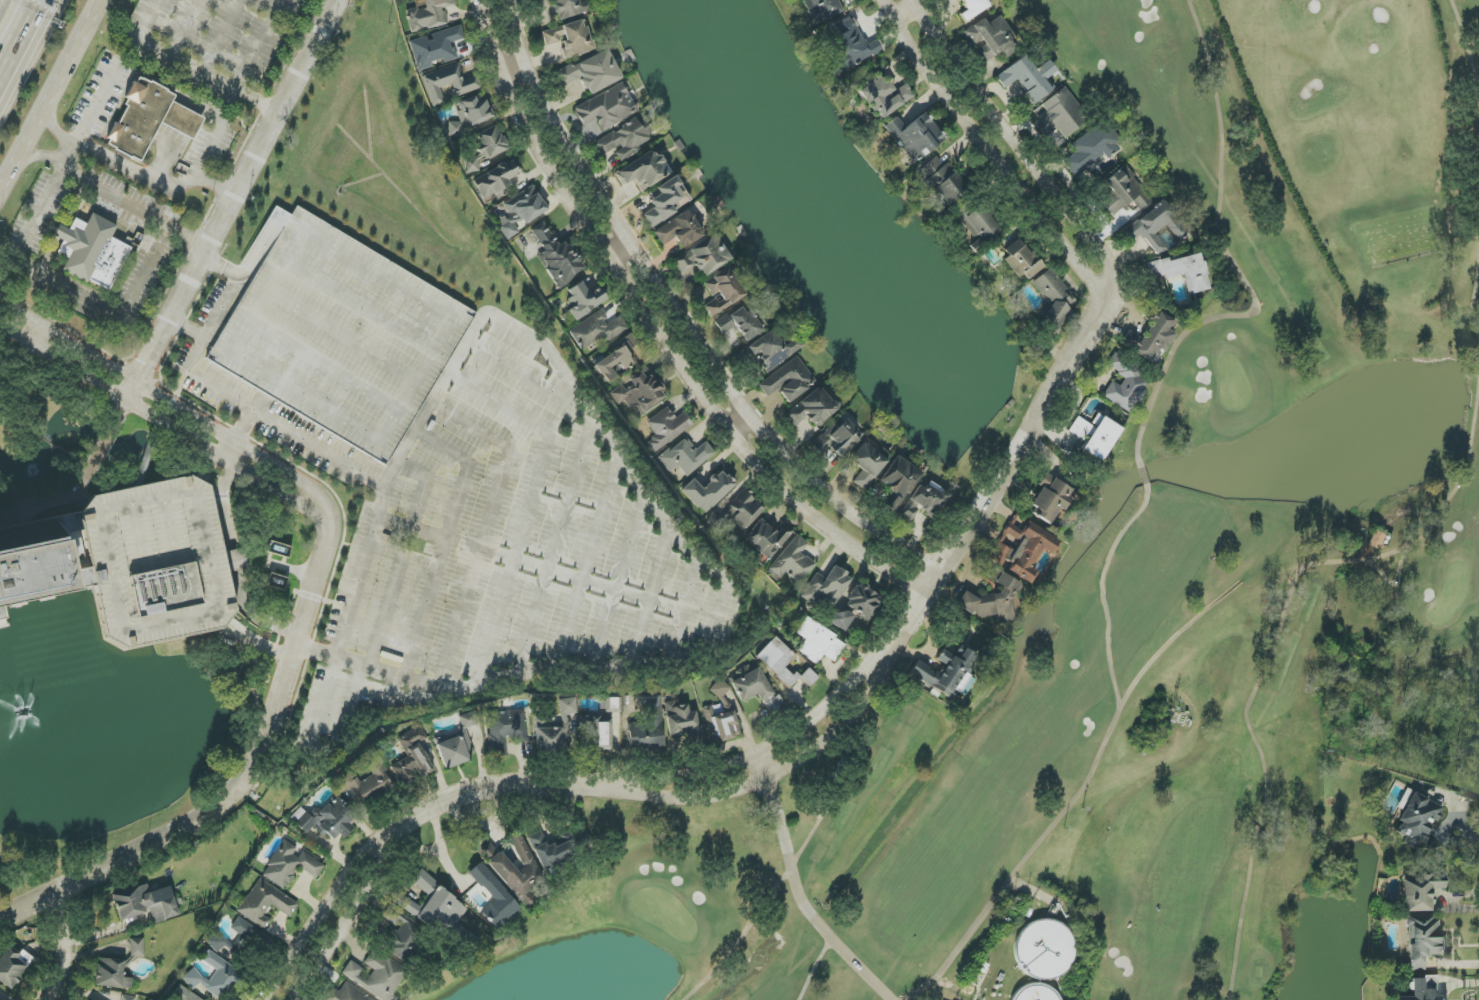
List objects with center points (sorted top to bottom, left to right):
building: (570, 7)
building: (973, 8)
building: (822, 10)
road: (908, 14)
building: (429, 15)
road: (184, 28)
road: (222, 37)
building: (570, 38)
building: (991, 38)
road: (21, 39)
building: (850, 45)
road: (261, 47)
building: (435, 47)
road: (188, 66)
road: (516, 72)
building: (592, 72)
building: (1028, 78)
building: (448, 83)
building: (884, 96)
road: (54, 99)
building: (607, 108)
building: (1061, 114)
building: (469, 116)
building: (149, 119)
road: (181, 124)
road: (56, 135)
building: (915, 137)
building: (624, 140)
building: (1092, 147)
building: (485, 148)
road: (1026, 151)
road: (993, 154)
road: (205, 157)
road: (45, 158)
road: (70, 159)
building: (643, 171)
building: (495, 180)
building: (942, 180)
road: (153, 185)
road: (237, 191)
building: (1124, 192)
building: (664, 202)
road: (134, 211)
building: (522, 211)
building: (979, 224)
building: (1159, 227)
building: (680, 230)
road: (621, 249)
building: (92, 251)
building: (703, 256)
building: (556, 257)
building: (1021, 260)
building: (1182, 272)
building: (722, 292)
building: (1054, 297)
building: (585, 300)
road: (112, 312)
road: (684, 317)
building: (743, 322)
building: (597, 330)
road: (658, 331)
building: (1151, 337)
building: (774, 349)
road: (197, 351)
building: (616, 359)
building: (788, 381)
building: (1126, 383)
building: (639, 393)
road: (171, 402)
building: (812, 408)
road: (742, 424)
building: (666, 428)
building: (1080, 429)
building: (839, 437)
building: (1100, 438)
building: (686, 456)
building: (866, 465)
road: (86, 474)
road: (1005, 476)
building: (899, 481)
building: (709, 491)
building: (1050, 499)
building: (924, 501)
building: (737, 513)
road: (376, 518)
building: (767, 539)
building: (1376, 540)
building: (1021, 549)
building: (793, 561)
building: (25, 578)
building: (277, 582)
park: (1150, 582)
helipad: (166, 584)
building: (826, 587)
building: (992, 599)
building: (861, 601)
building: (839, 620)
building: (818, 642)
building: (783, 663)
building: (948, 673)
building: (750, 684)
building: (720, 692)
building: (611, 706)
fountain: (23, 711)
building: (469, 719)
building: (722, 723)
building: (647, 728)
building: (555, 730)
building: (505, 731)
building: (596, 732)
building: (454, 749)
road: (765, 749)
building: (412, 758)
road: (778, 775)
road: (246, 780)
building: (366, 782)
road: (493, 785)
building: (327, 819)
building: (1417, 819)
road: (1467, 839)
building: (556, 848)
building: (290, 865)
building: (504, 870)
road: (800, 890)
building: (1420, 892)
building: (494, 897)
building: (265, 903)
building: (434, 905)
road: (321, 913)
road: (347, 920)
building: (401, 932)
building: (239, 941)
building: (1423, 941)
road: (67, 945)
building: (137, 947)
building: (1046, 948)
building: (12, 966)
building: (112, 974)
building: (377, 975)
building: (216, 977)
building: (1423, 989)
building: (1035, 993)
building: (346, 994)
building: (185, 995)
building: (127, 998)

